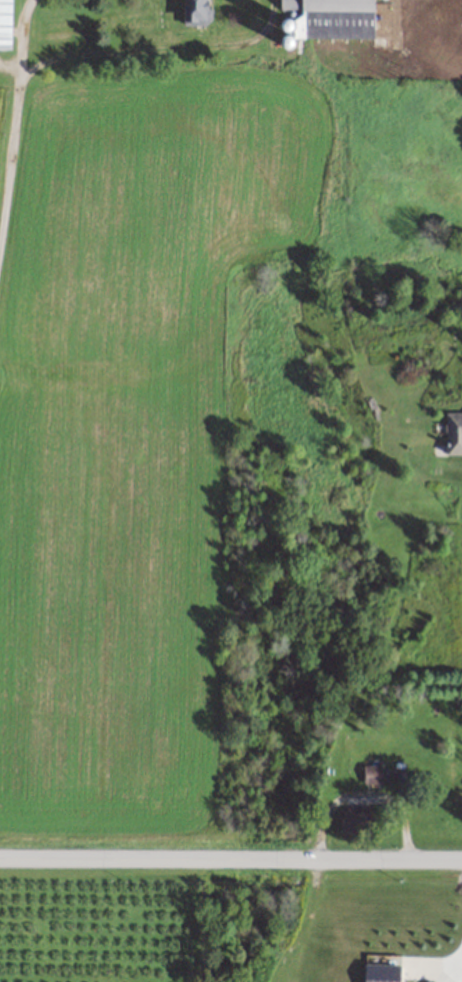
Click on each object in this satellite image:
building: (197, 12)
building: (330, 18)
building: (5, 24)
crop: (414, 129)
building: (453, 431)
building: (372, 773)
building: (355, 818)
road: (231, 860)

